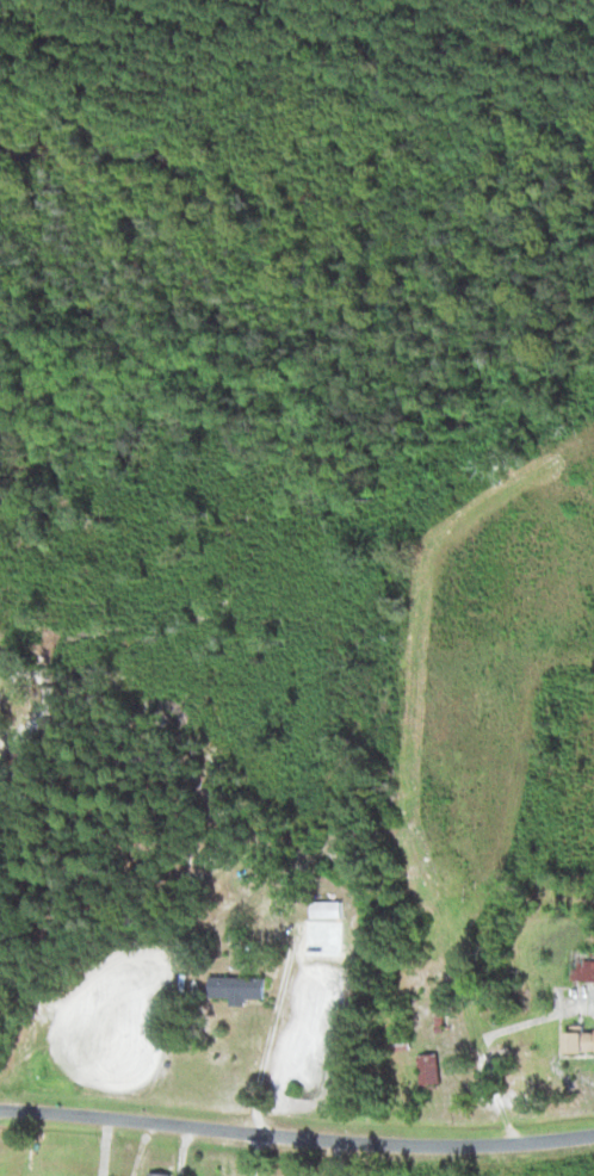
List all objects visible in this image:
building: (329, 910)
building: (242, 989)
building: (582, 1042)
building: (432, 1071)
road: (297, 1112)
building: (162, 1174)

